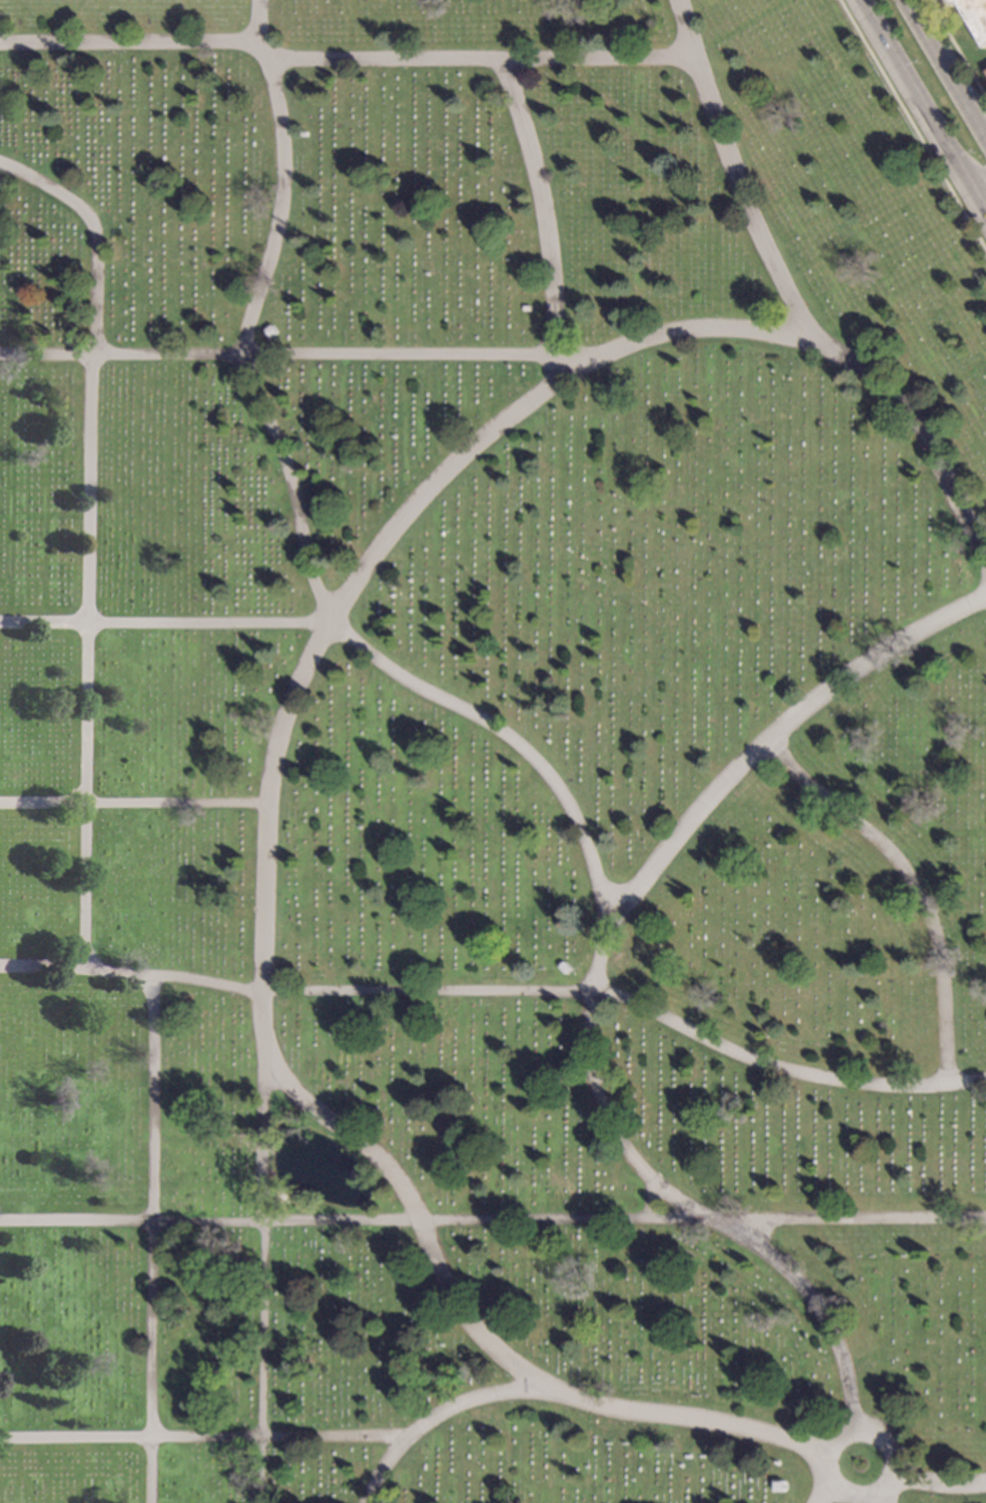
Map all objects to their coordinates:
building: (975, 14)
road: (956, 49)
road: (949, 61)
road: (345, 62)
road: (920, 99)
road: (912, 125)
building: (302, 135)
road: (978, 180)
road: (982, 204)
road: (544, 220)
building: (525, 309)
road: (793, 309)
road: (249, 316)
building: (270, 331)
road: (294, 356)
road: (85, 542)
road: (367, 654)
road: (274, 758)
park: (487, 760)
road: (133, 805)
road: (911, 883)
building: (564, 967)
road: (595, 977)
road: (500, 993)
road: (493, 1223)
road: (150, 1240)
road: (260, 1277)
road: (572, 1399)
road: (846, 1432)
road: (203, 1438)
building: (773, 1463)
road: (937, 1484)
building: (778, 1486)
road: (821, 1496)
road: (878, 1500)

